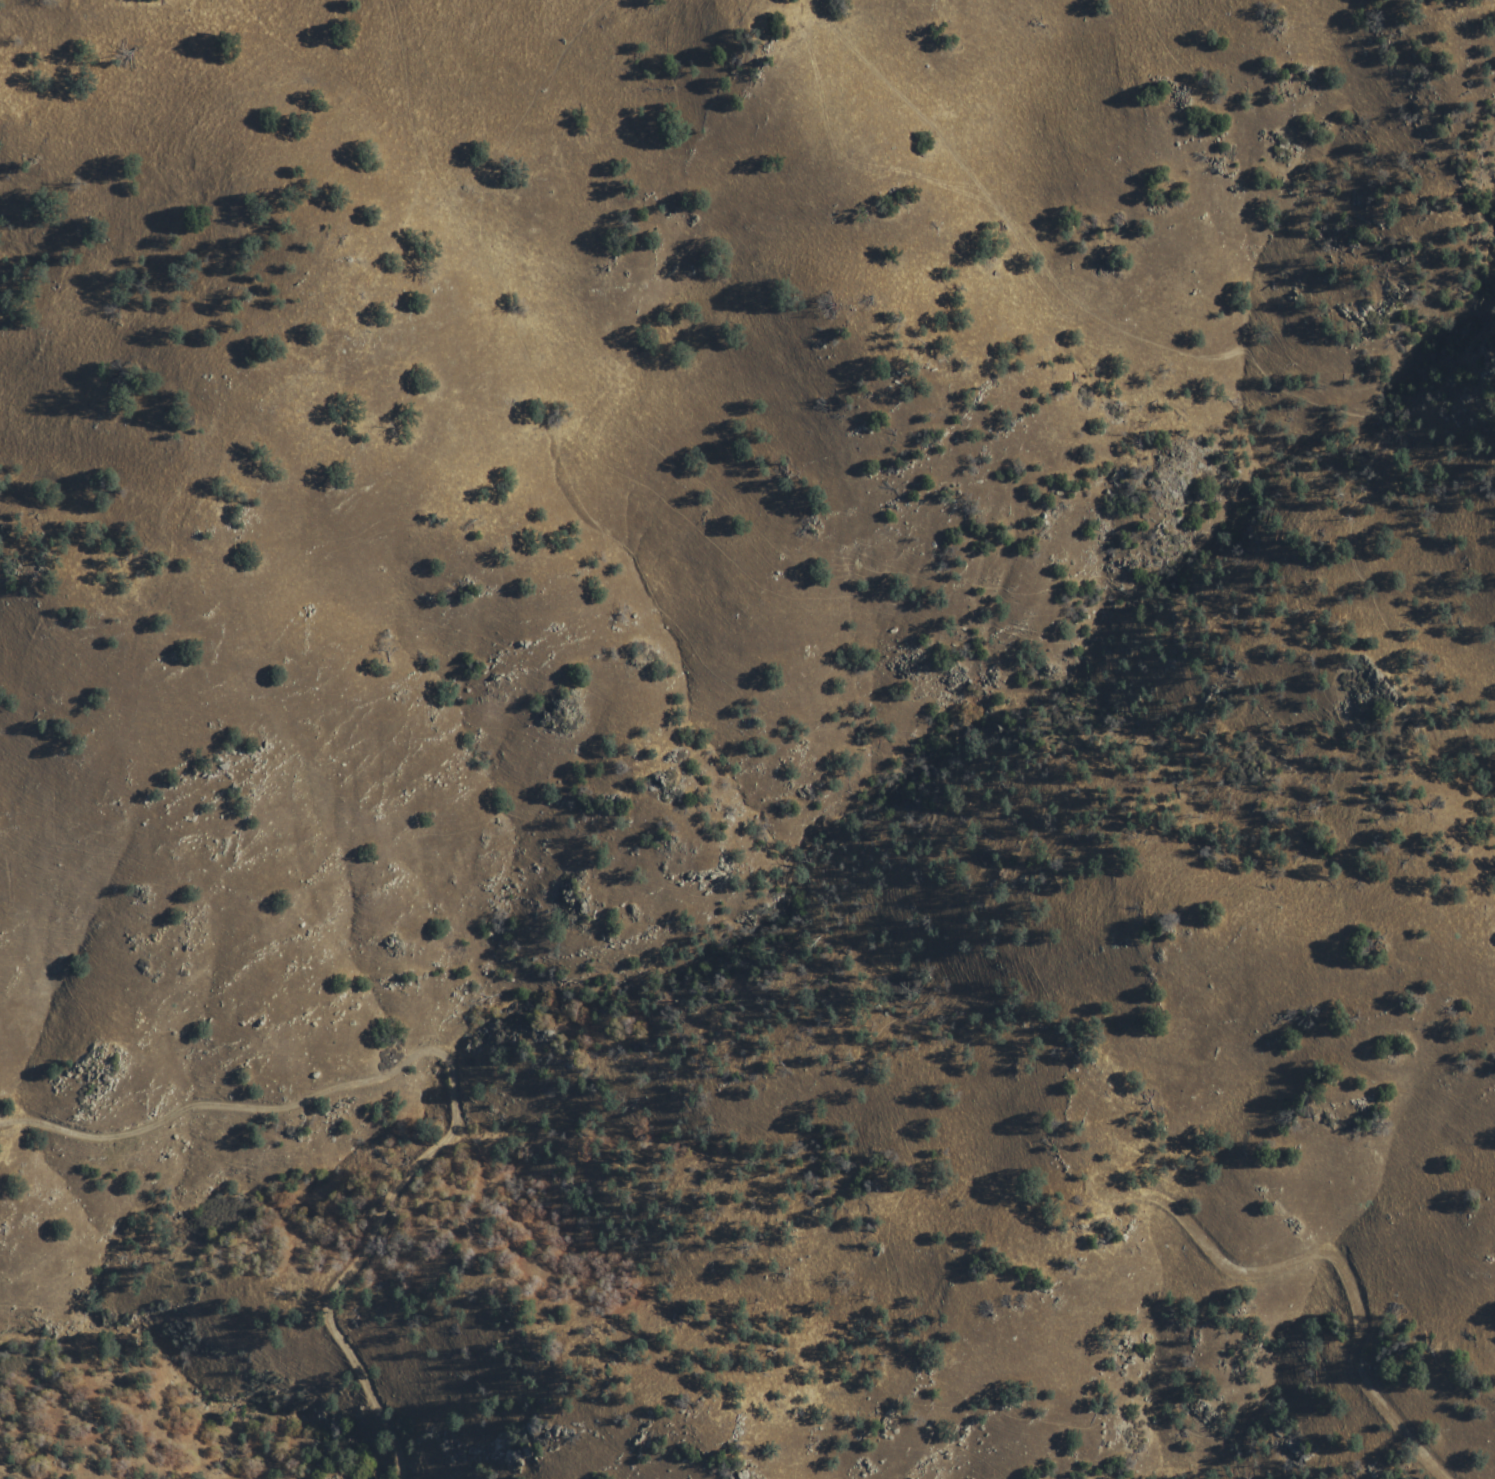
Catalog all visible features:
road: (372, 1233)

